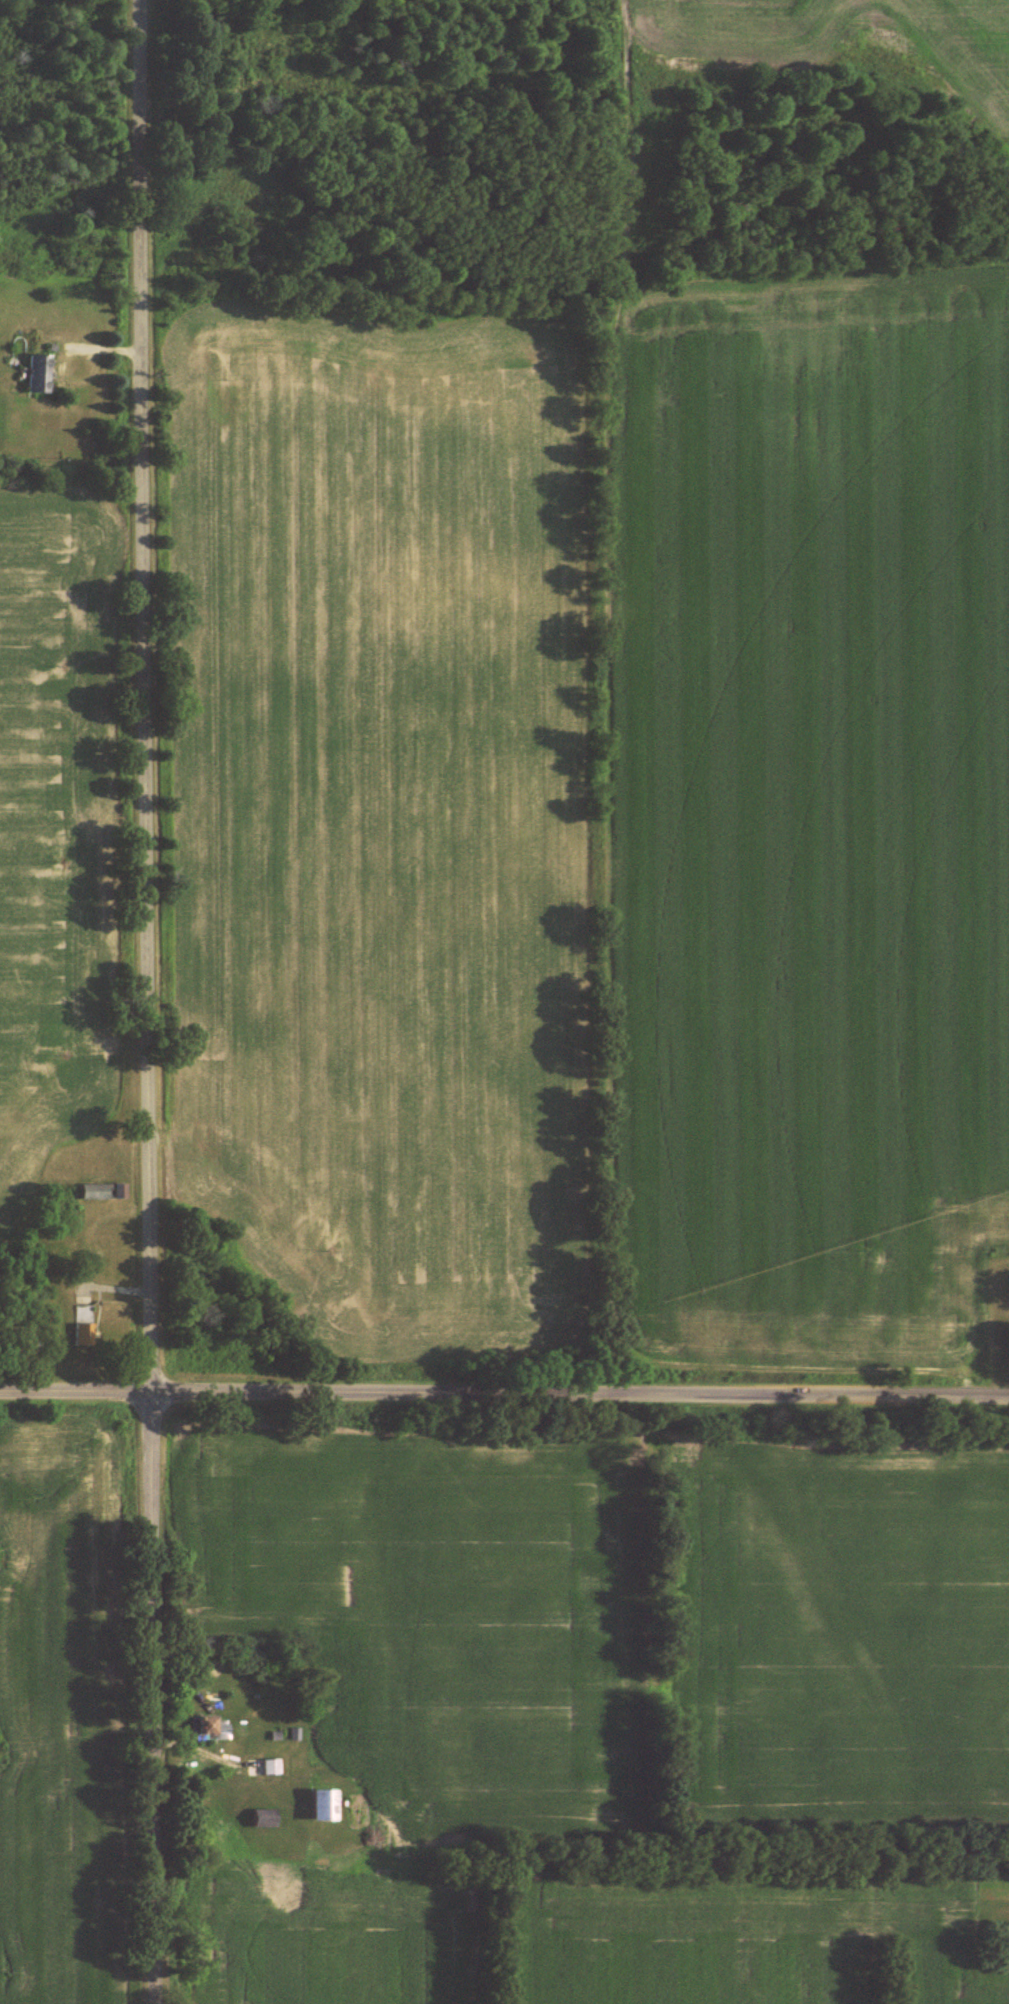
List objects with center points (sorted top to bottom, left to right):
building: (40, 374)
road: (155, 1001)
building: (103, 1191)
building: (85, 1325)
road: (504, 1397)
building: (210, 1727)
building: (273, 1766)
building: (327, 1804)
building: (267, 1818)

